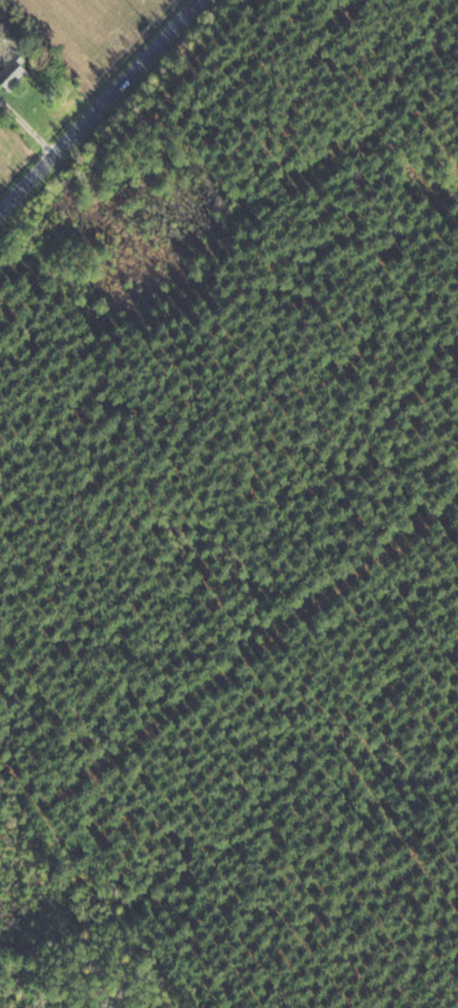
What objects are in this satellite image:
building: (19, 72)
road: (101, 107)

